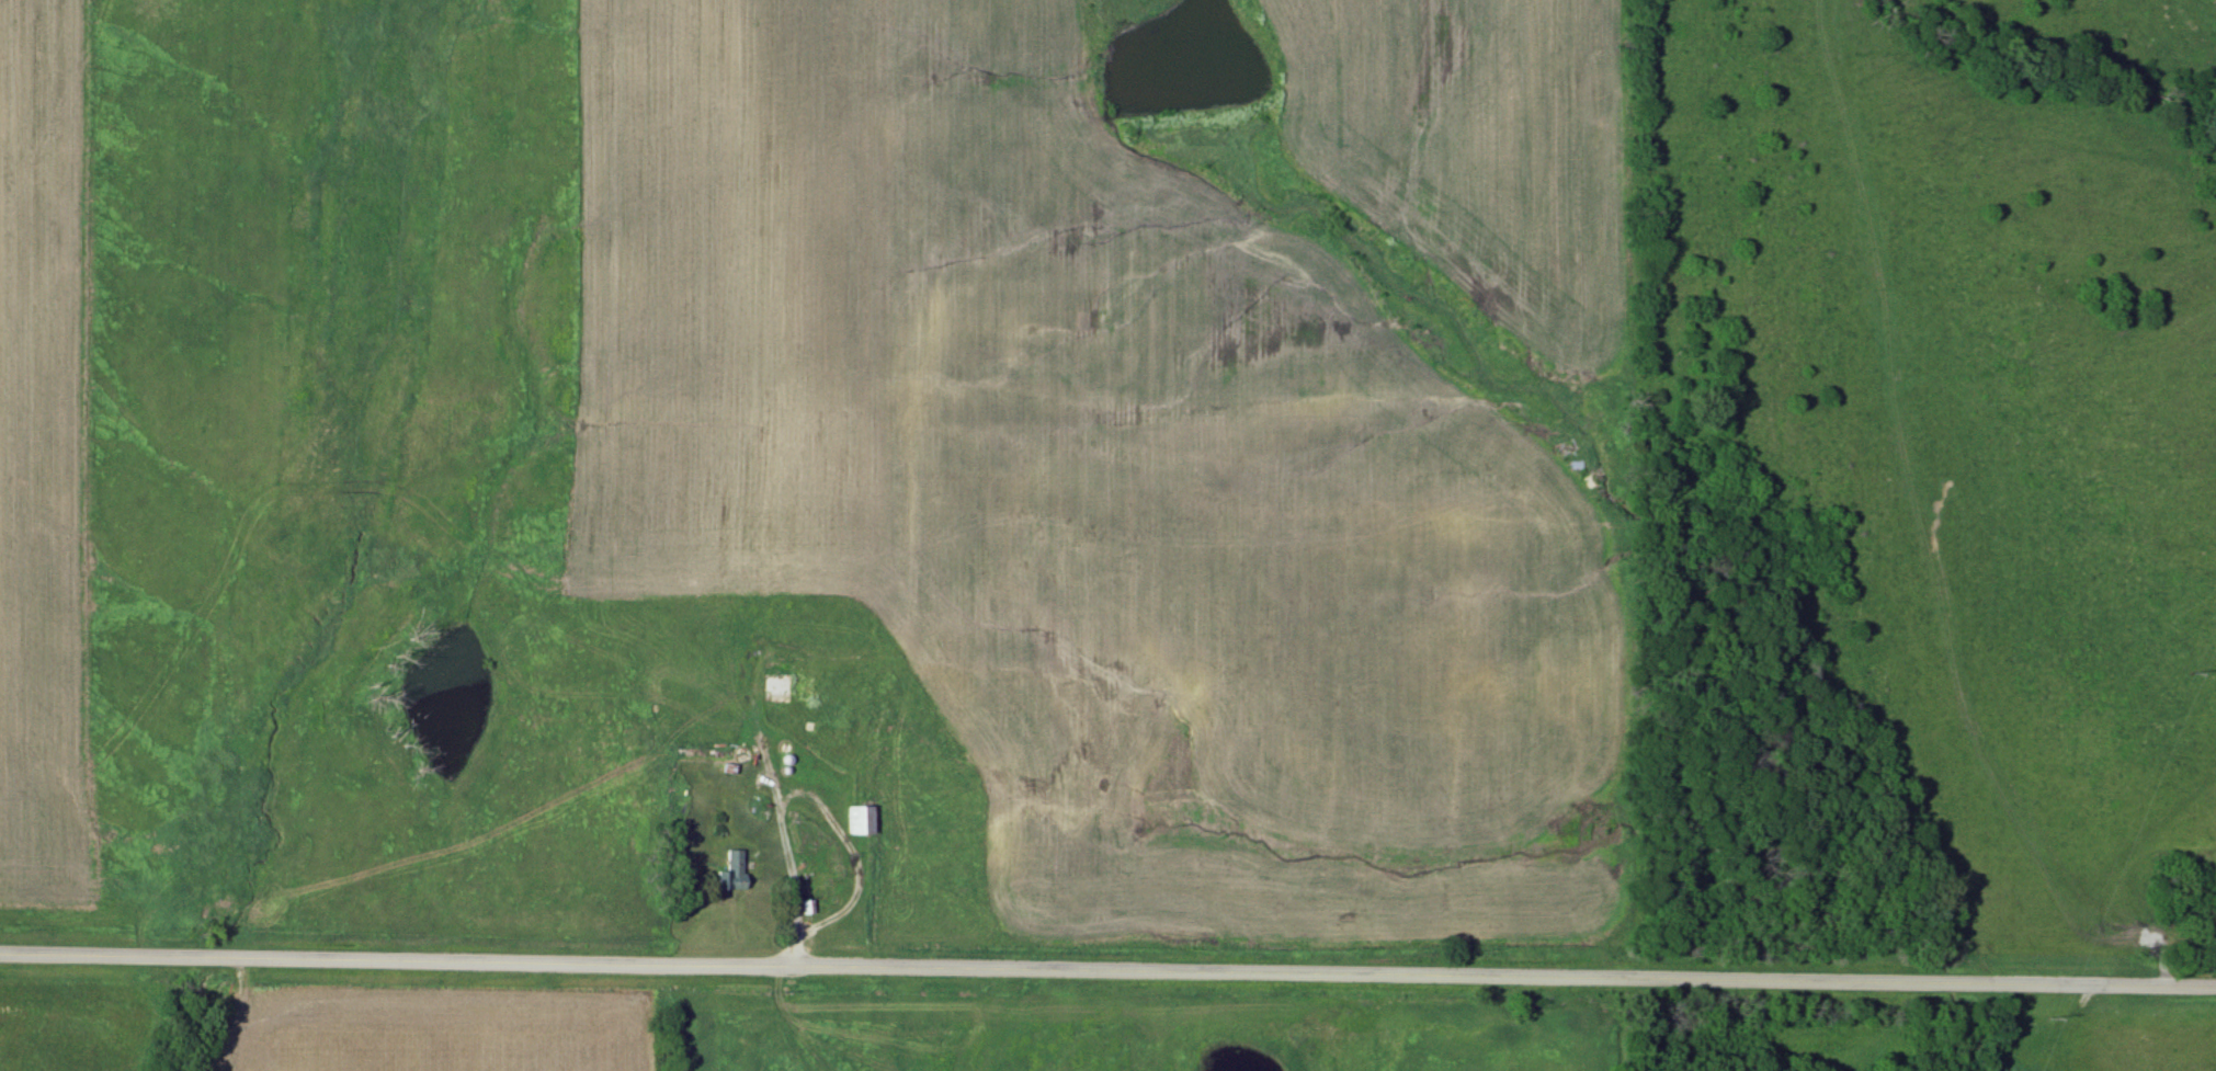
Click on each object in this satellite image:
building: (775, 680)
building: (859, 820)
building: (731, 873)
road: (800, 873)
road: (1107, 964)

